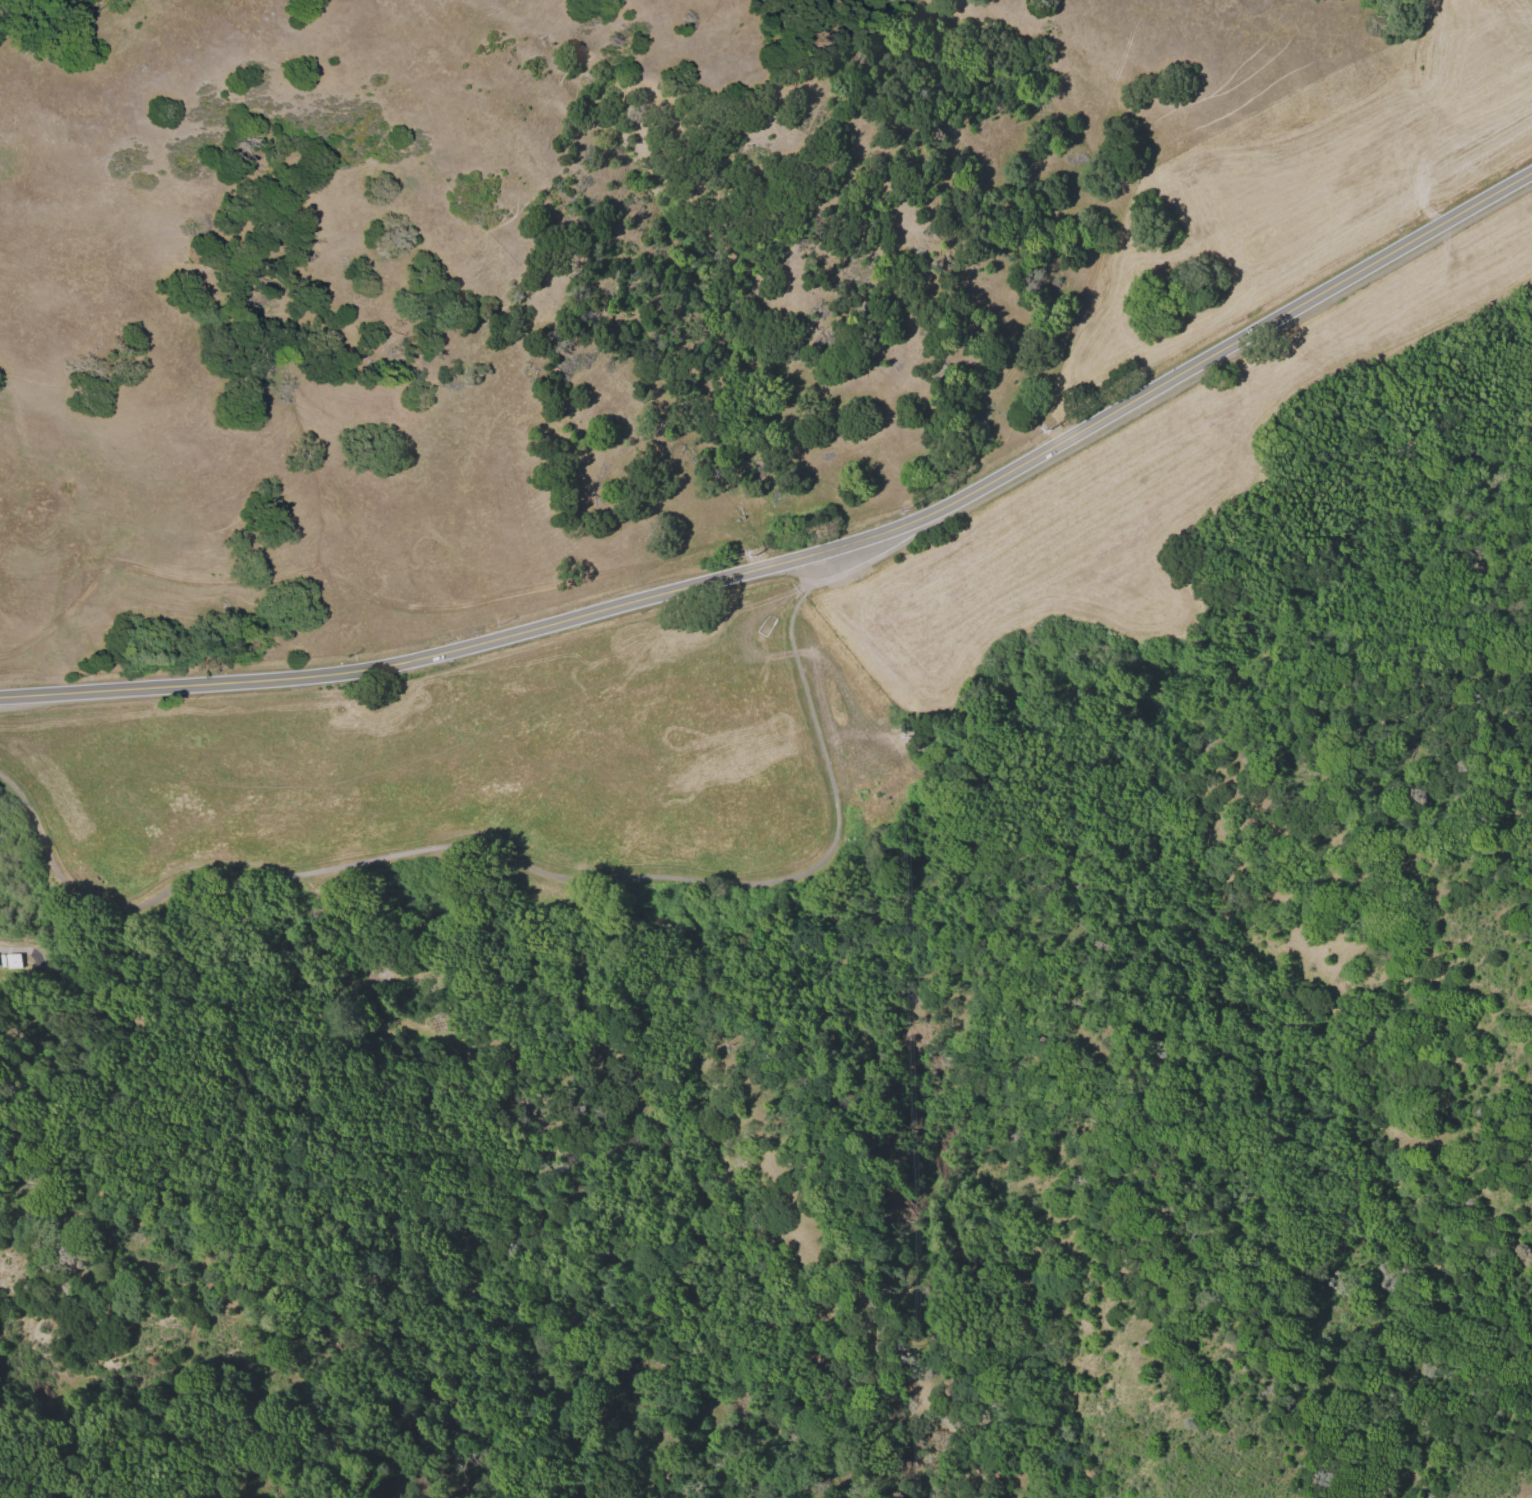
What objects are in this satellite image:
crop: (797, 491)
road: (806, 555)
road: (519, 863)
river: (834, 917)
building: (11, 960)
park: (896, 1029)

